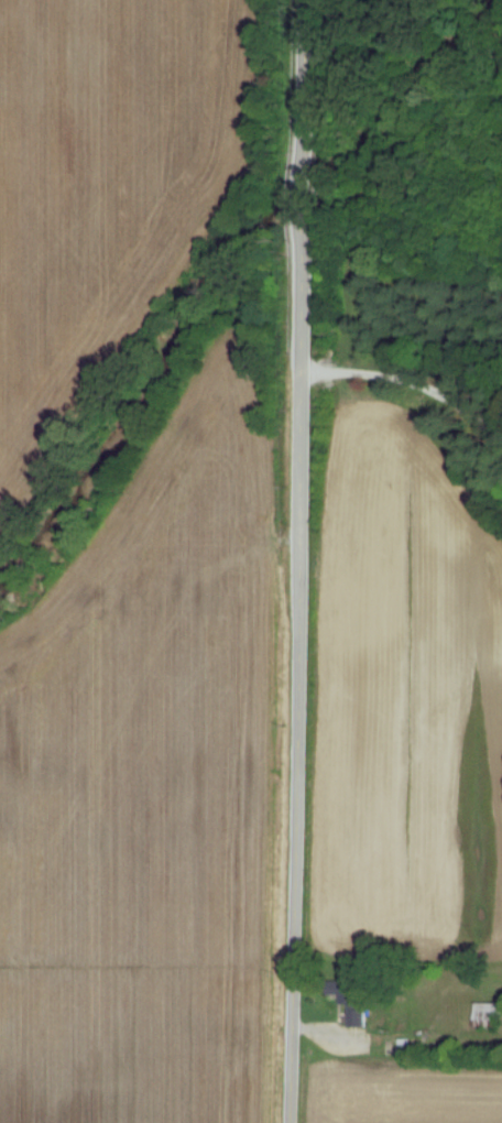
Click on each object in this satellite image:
road: (411, 380)
road: (299, 561)
building: (353, 1000)
building: (489, 1014)

